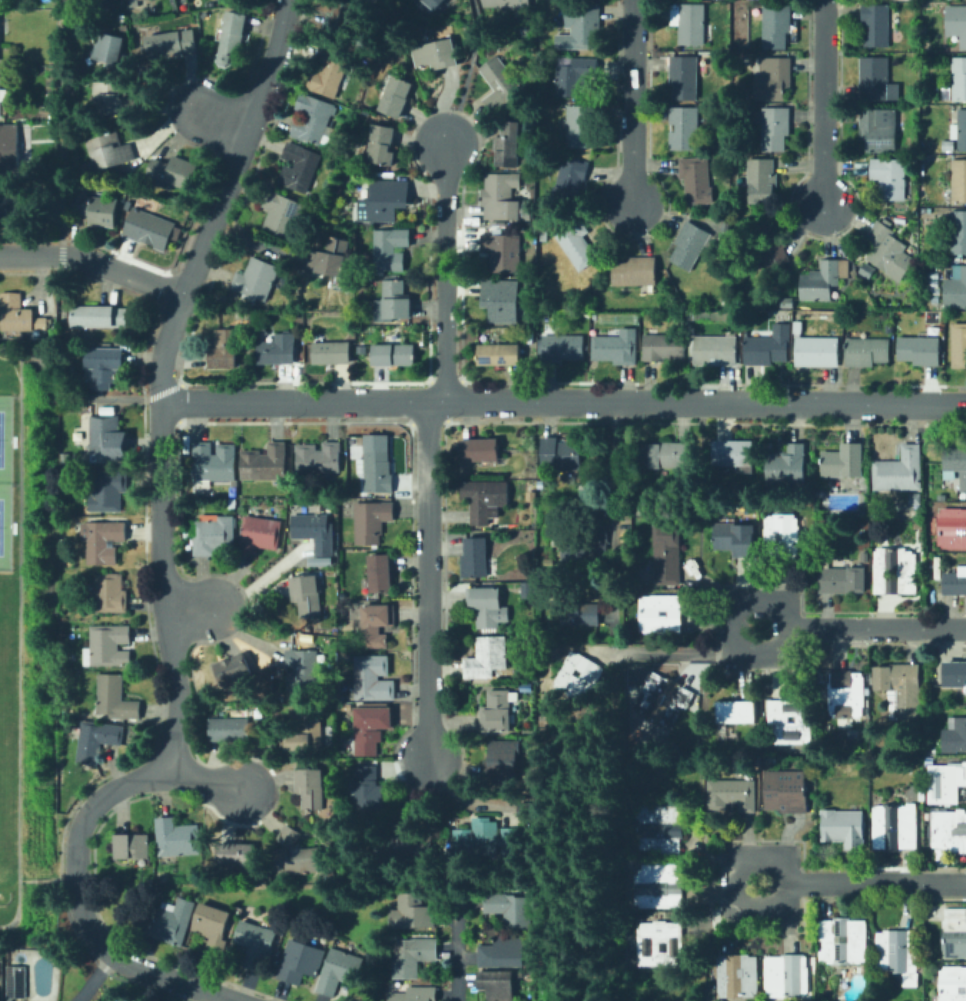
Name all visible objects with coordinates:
building: (431, 3)
building: (459, 3)
building: (508, 3)
building: (543, 8)
building: (347, 18)
building: (689, 23)
building: (956, 23)
building: (876, 25)
building: (579, 26)
building: (776, 26)
building: (525, 31)
building: (231, 38)
building: (169, 45)
building: (107, 48)
building: (437, 54)
building: (329, 73)
road: (467, 73)
building: (575, 76)
building: (684, 77)
building: (773, 80)
building: (876, 80)
building: (956, 81)
building: (503, 85)
building: (543, 93)
building: (2, 94)
building: (925, 96)
building: (397, 97)
building: (111, 99)
road: (635, 104)
road: (825, 104)
road: (61, 119)
building: (314, 119)
road: (232, 120)
building: (580, 125)
building: (773, 127)
building: (683, 128)
building: (878, 130)
building: (960, 130)
building: (508, 144)
building: (382, 145)
building: (949, 145)
building: (928, 148)
building: (3, 149)
building: (110, 151)
building: (916, 152)
building: (300, 168)
building: (174, 172)
building: (890, 178)
building: (571, 180)
building: (696, 180)
building: (761, 180)
building: (959, 181)
building: (501, 196)
building: (384, 201)
building: (93, 205)
building: (16, 206)
building: (282, 214)
building: (900, 220)
building: (150, 229)
building: (957, 230)
building: (577, 243)
building: (690, 245)
building: (390, 248)
building: (766, 248)
building: (888, 251)
building: (503, 252)
road: (63, 255)
building: (330, 258)
road: (93, 260)
building: (865, 270)
building: (635, 272)
road: (446, 274)
building: (856, 275)
building: (256, 280)
building: (821, 282)
building: (956, 289)
building: (396, 300)
building: (501, 300)
building: (935, 300)
building: (790, 303)
building: (352, 307)
building: (19, 314)
building: (293, 314)
building: (98, 316)
building: (738, 323)
building: (798, 327)
road: (63, 333)
building: (262, 333)
building: (530, 338)
building: (959, 345)
building: (769, 346)
building: (663, 347)
building: (362, 348)
building: (562, 348)
building: (225, 349)
building: (615, 349)
building: (279, 350)
building: (716, 350)
building: (919, 350)
building: (817, 352)
building: (867, 352)
building: (332, 353)
building: (394, 355)
building: (499, 355)
building: (103, 365)
road: (154, 393)
road: (63, 394)
road: (14, 396)
road: (564, 403)
park: (0, 438)
building: (108, 438)
building: (480, 450)
building: (355, 451)
building: (561, 455)
building: (664, 455)
building: (735, 455)
building: (319, 458)
building: (214, 462)
building: (844, 462)
building: (265, 463)
building: (956, 463)
building: (788, 465)
building: (376, 468)
building: (899, 471)
road: (614, 472)
building: (532, 475)
road: (14, 484)
building: (533, 486)
building: (108, 490)
building: (233, 492)
building: (377, 495)
building: (942, 497)
building: (485, 499)
building: (914, 500)
building: (231, 507)
park: (0, 517)
building: (372, 521)
building: (918, 525)
building: (952, 529)
building: (289, 531)
building: (315, 532)
building: (260, 534)
building: (214, 535)
building: (782, 536)
building: (736, 538)
building: (104, 542)
building: (63, 548)
building: (589, 548)
building: (669, 554)
building: (866, 557)
building: (475, 558)
road: (162, 559)
building: (379, 573)
building: (907, 574)
building: (842, 580)
road: (426, 583)
building: (955, 583)
building: (110, 594)
building: (307, 595)
building: (533, 600)
building: (486, 606)
road: (192, 608)
building: (578, 609)
building: (662, 614)
road: (722, 622)
building: (376, 625)
road: (874, 626)
road: (729, 628)
building: (519, 640)
road: (18, 643)
building: (108, 646)
road: (674, 652)
building: (346, 657)
building: (487, 658)
building: (234, 669)
building: (303, 671)
building: (955, 674)
building: (581, 675)
building: (372, 679)
building: (525, 688)
building: (900, 689)
building: (847, 694)
building: (742, 695)
building: (115, 699)
building: (664, 699)
building: (499, 712)
building: (736, 712)
building: (546, 721)
building: (789, 721)
building: (680, 723)
road: (699, 725)
building: (371, 726)
building: (230, 730)
building: (306, 730)
building: (955, 737)
building: (96, 740)
building: (930, 752)
building: (503, 761)
building: (740, 761)
building: (769, 761)
road: (203, 777)
building: (946, 783)
building: (311, 788)
building: (922, 790)
building: (787, 791)
building: (368, 795)
building: (733, 795)
building: (844, 827)
building: (895, 827)
building: (511, 829)
building: (660, 829)
road: (575, 832)
building: (949, 834)
building: (289, 836)
building: (478, 836)
building: (177, 838)
building: (132, 846)
building: (406, 846)
building: (235, 854)
park: (600, 861)
building: (296, 862)
road: (61, 877)
building: (326, 877)
road: (25, 879)
road: (732, 880)
road: (875, 881)
building: (660, 886)
road: (722, 887)
building: (511, 910)
building: (413, 913)
building: (171, 922)
building: (213, 928)
building: (954, 934)
building: (843, 941)
building: (659, 944)
building: (256, 945)
building: (505, 951)
building: (898, 955)
building: (412, 956)
building: (300, 962)
road: (457, 965)
building: (339, 972)
building: (737, 976)
building: (786, 976)
road: (94, 977)
building: (17, 982)
building: (499, 984)
building: (952, 984)
building: (415, 994)
building: (915, 999)

